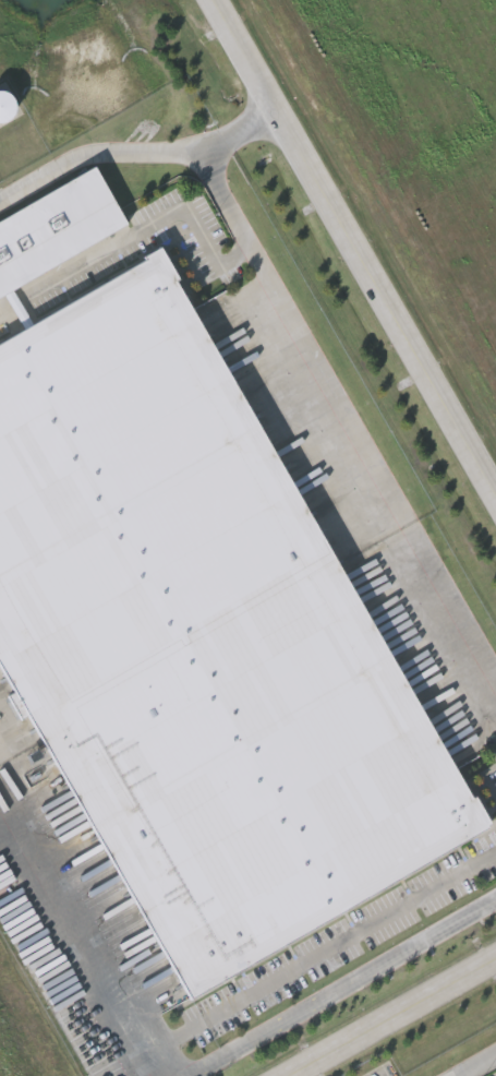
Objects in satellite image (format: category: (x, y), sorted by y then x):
building: (8, 106)
road: (247, 122)
road: (107, 150)
road: (351, 252)
road: (289, 335)
road: (443, 609)
building: (193, 622)
road: (346, 928)
road: (76, 947)
road: (360, 972)
road: (388, 1014)
road: (167, 1027)
road: (473, 1064)
road: (205, 1065)

